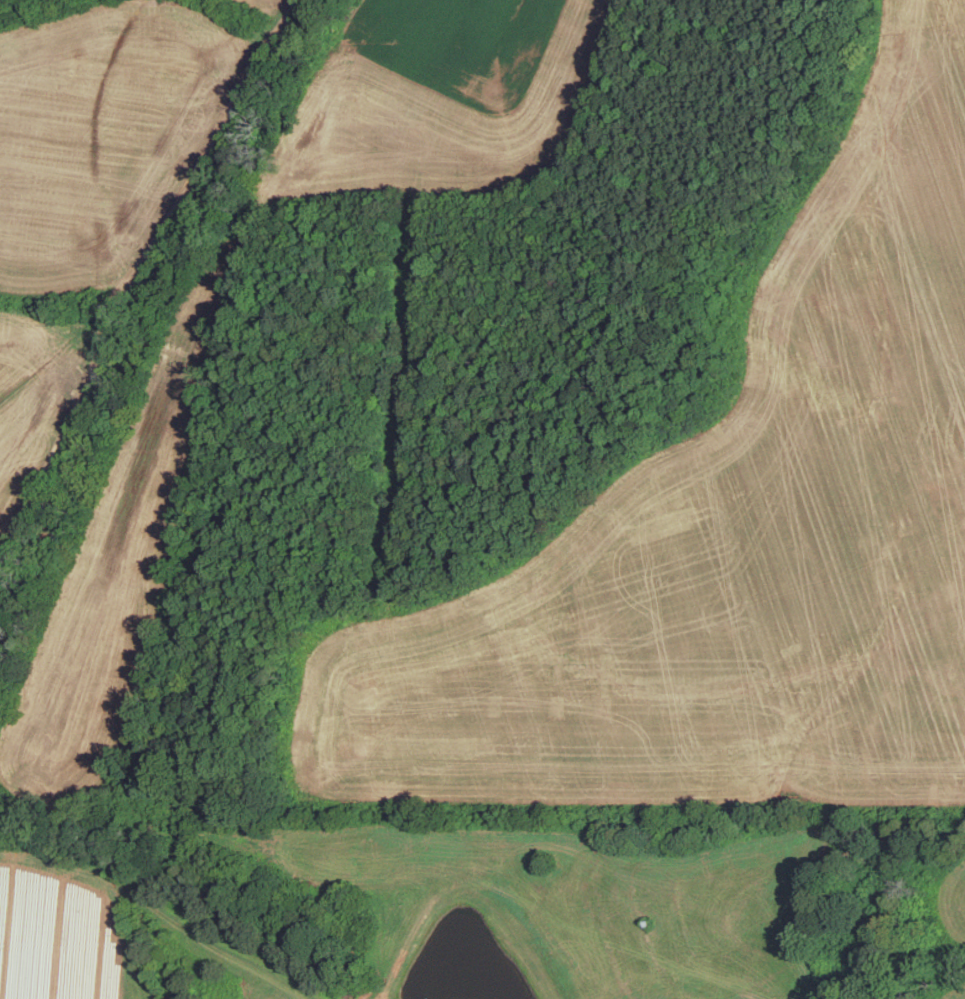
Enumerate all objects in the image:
crop: (256, 14)
road: (281, 22)
crop: (441, 101)
crop: (106, 133)
road: (195, 168)
crop: (40, 389)
road: (66, 430)
crop: (732, 546)
crop: (107, 579)

